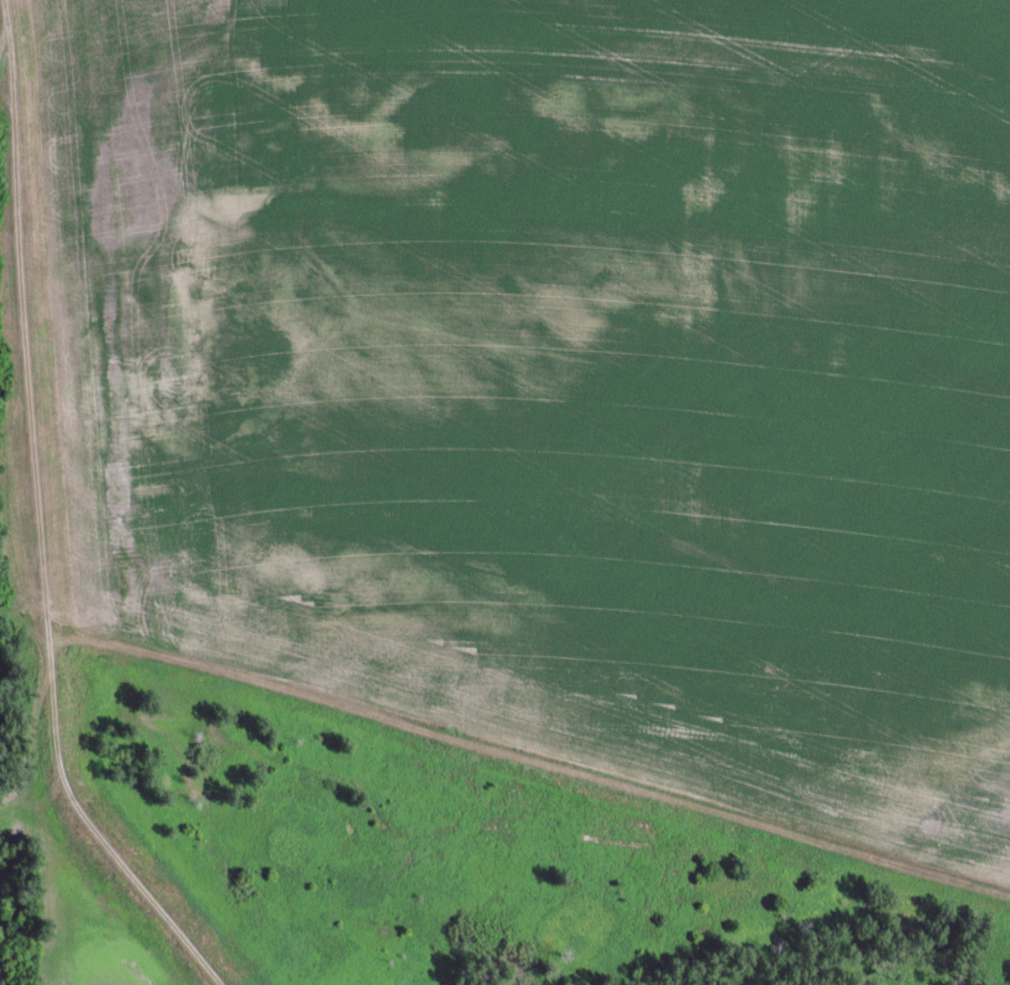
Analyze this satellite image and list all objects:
road: (3, 37)
road: (36, 520)

